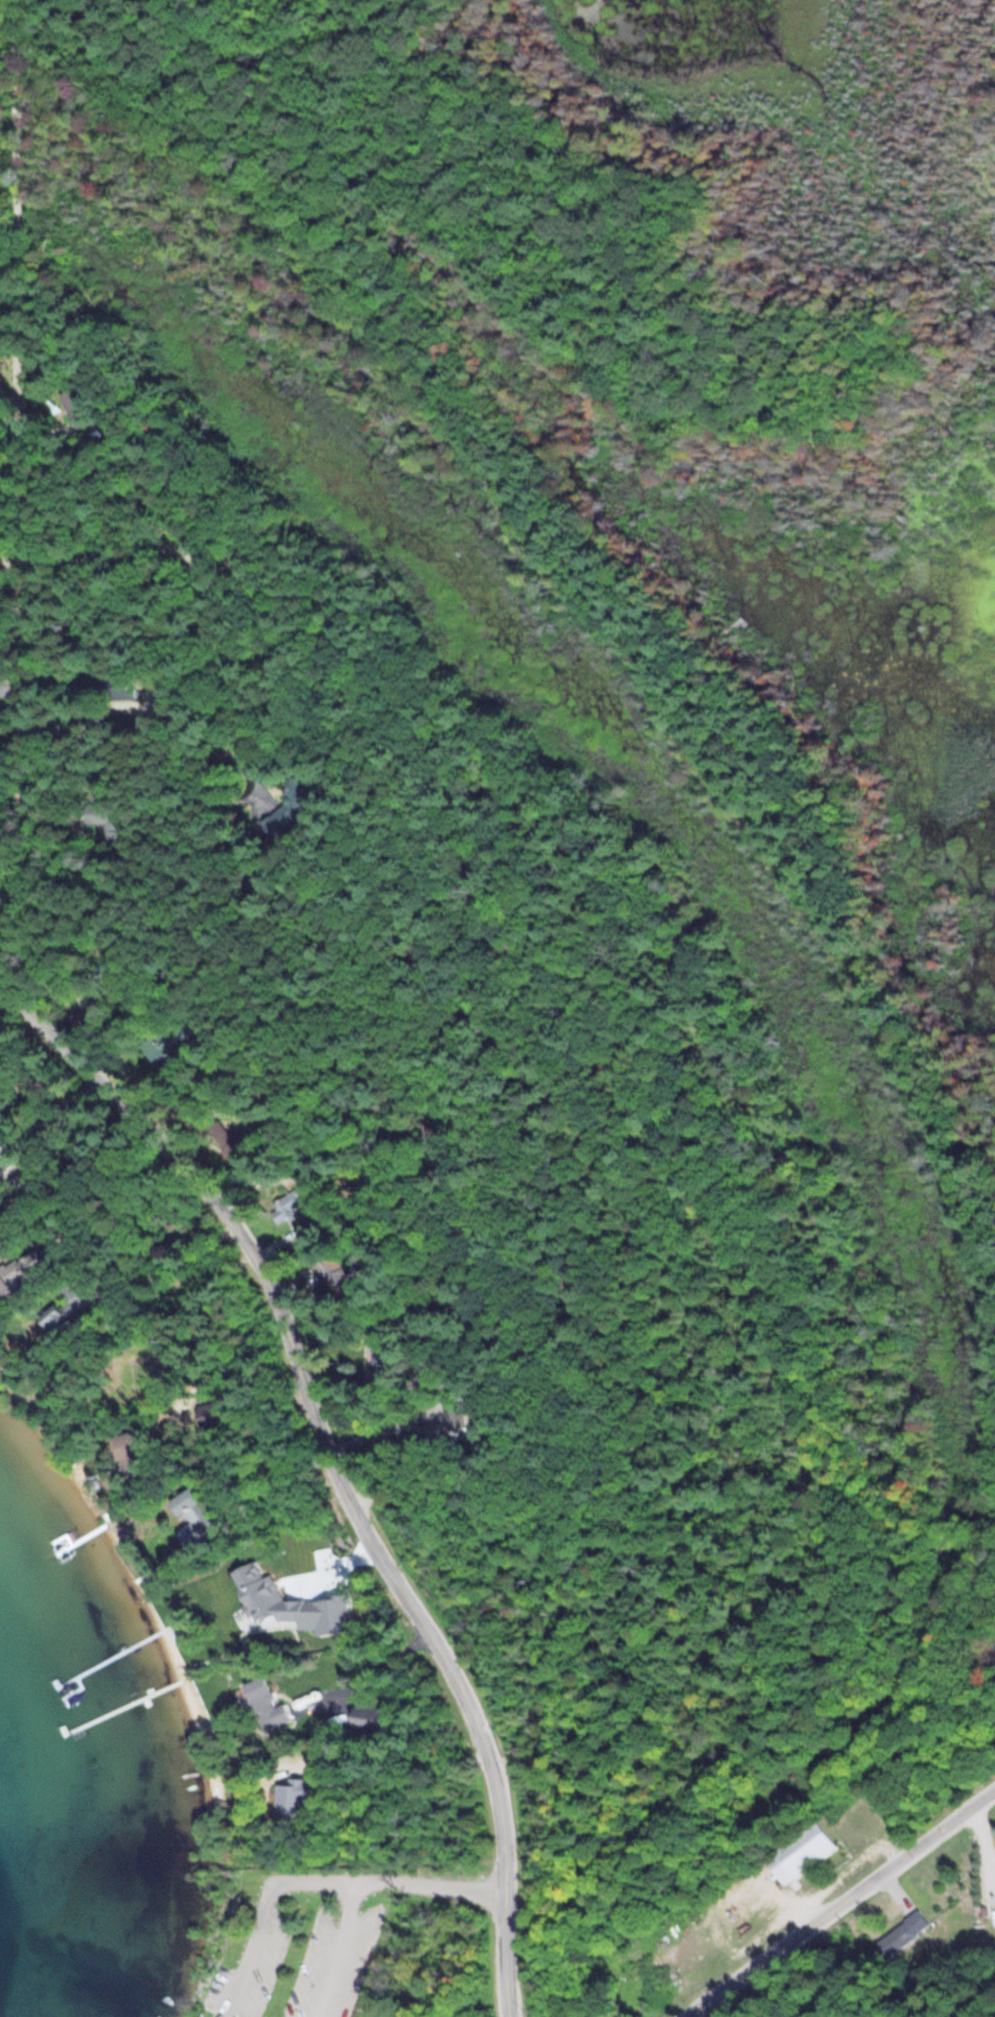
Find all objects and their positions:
road: (385, 179)
road: (729, 307)
building: (80, 404)
road: (17, 496)
road: (573, 531)
road: (736, 621)
building: (120, 685)
building: (291, 809)
building: (106, 819)
building: (83, 1017)
building: (159, 1045)
building: (225, 1138)
building: (0, 1192)
building: (287, 1205)
building: (21, 1269)
building: (68, 1304)
building: (211, 1413)
building: (426, 1433)
building: (123, 1444)
road: (335, 1461)
building: (184, 1500)
building: (189, 1534)
building: (268, 1596)
building: (332, 1612)
building: (265, 1704)
building: (366, 1716)
building: (292, 1800)
building: (801, 1850)
road: (433, 1883)
road: (840, 1904)
road: (262, 1912)
building: (904, 1933)
road: (340, 1948)
parking lot: (333, 1965)
parking lot: (250, 1972)

